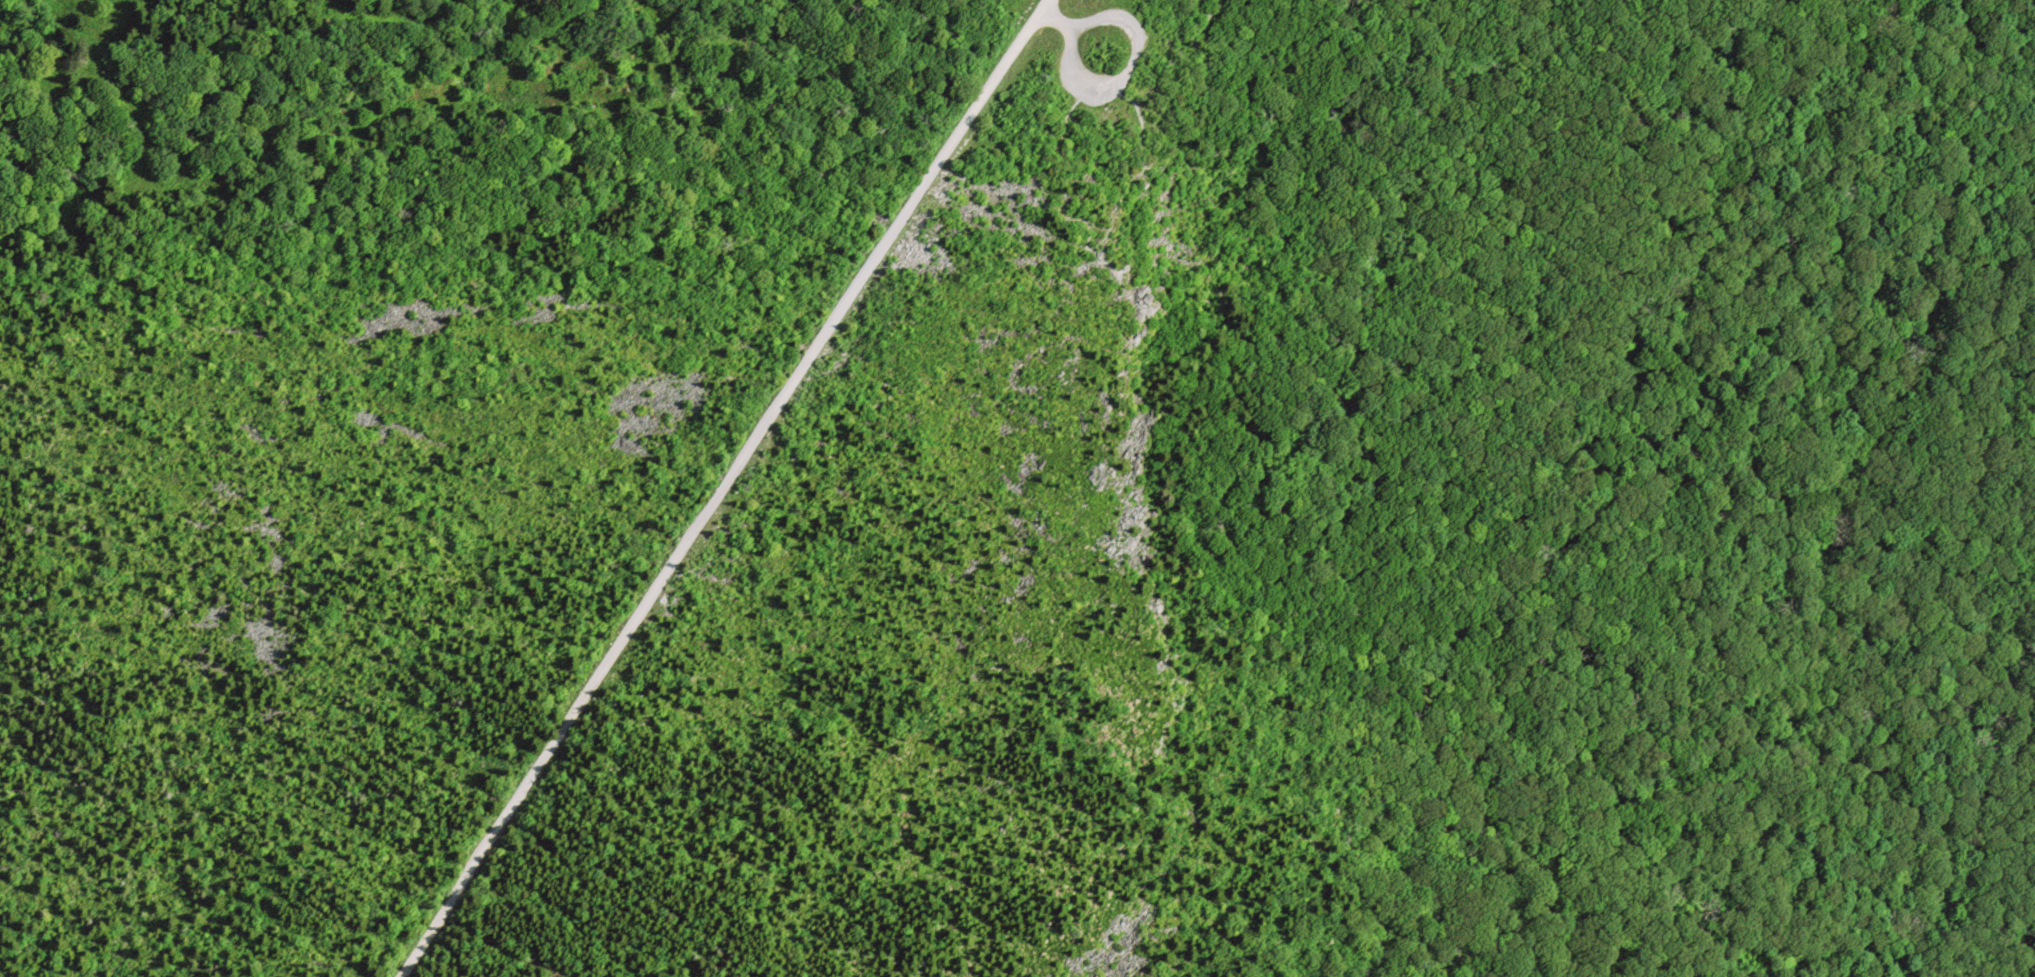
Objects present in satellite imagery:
road: (1125, 72)
parking lot: (1094, 78)
road: (724, 488)

